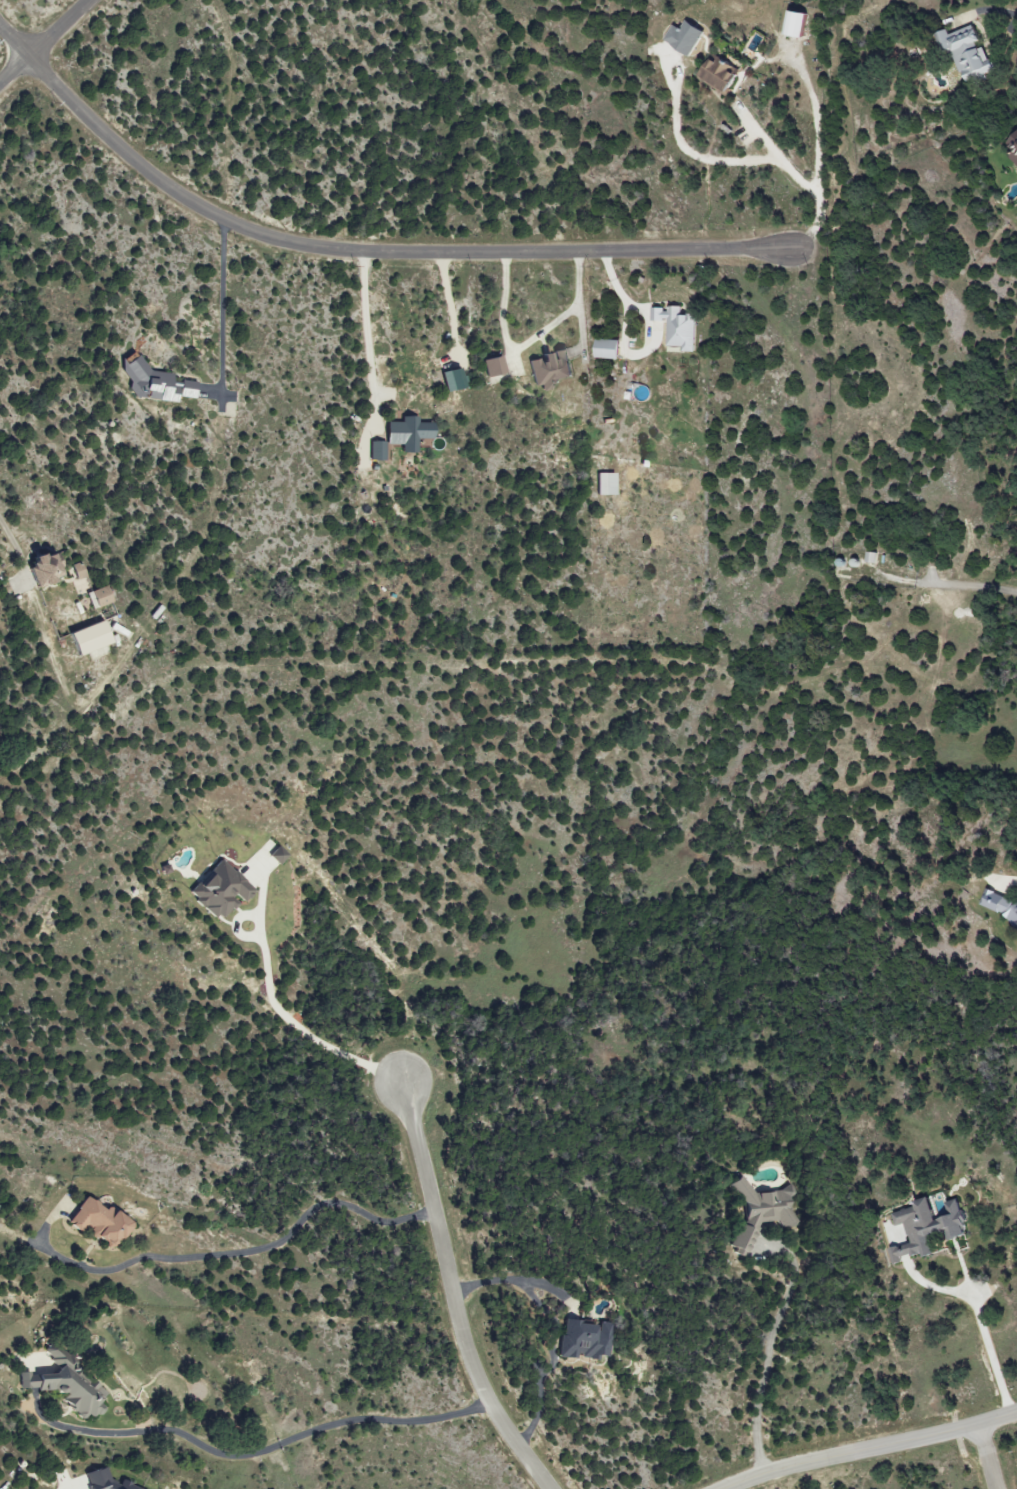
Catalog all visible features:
road: (1000, 13)
building: (793, 24)
building: (683, 38)
road: (43, 41)
building: (966, 51)
building: (716, 74)
building: (1013, 146)
road: (359, 252)
road: (221, 306)
building: (677, 326)
road: (368, 337)
road: (530, 338)
building: (606, 349)
building: (492, 365)
building: (550, 368)
building: (450, 378)
building: (154, 384)
building: (406, 433)
building: (376, 450)
building: (604, 484)
road: (15, 537)
building: (44, 566)
building: (77, 570)
road: (975, 587)
building: (98, 596)
building: (86, 638)
building: (275, 855)
building: (219, 889)
road: (345, 905)
building: (1001, 906)
road: (302, 1022)
building: (759, 1210)
building: (95, 1221)
building: (927, 1226)
road: (243, 1250)
road: (451, 1294)
road: (553, 1331)
building: (583, 1339)
road: (770, 1356)
road: (994, 1356)
building: (64, 1386)
road: (871, 1449)
road: (253, 1450)
road: (987, 1457)
building: (103, 1480)
road: (62, 1485)
road: (735, 1488)

